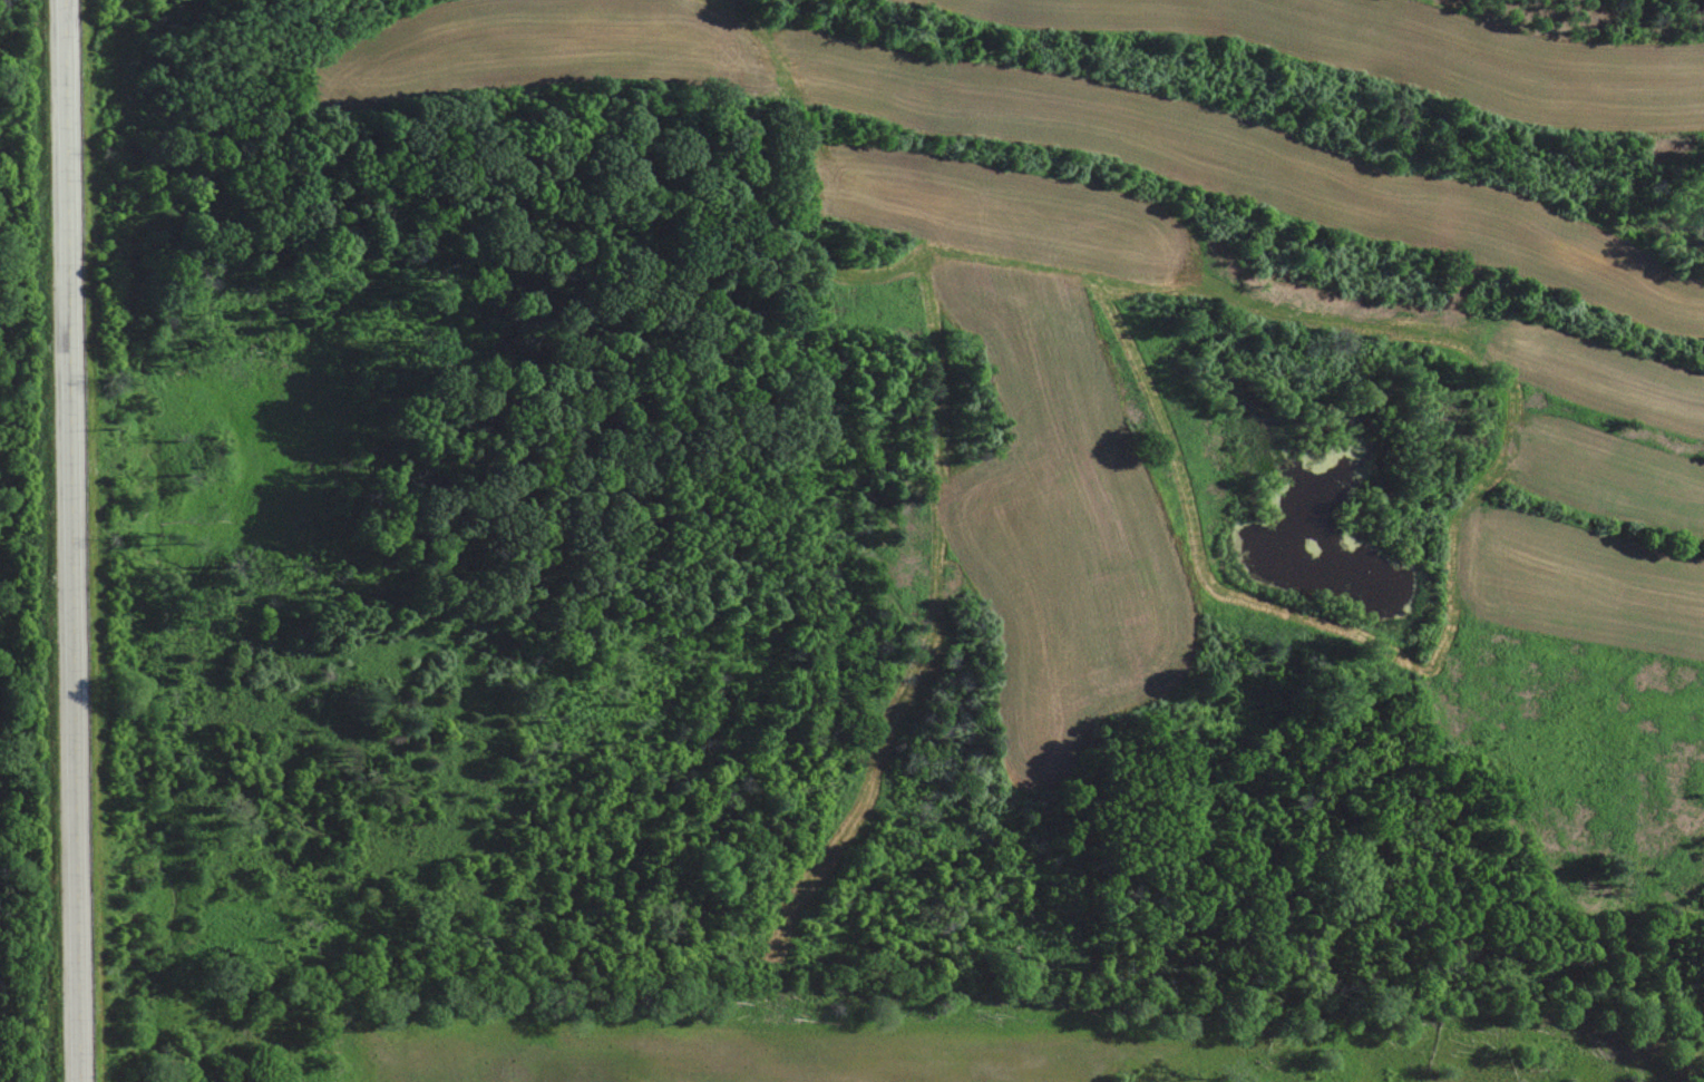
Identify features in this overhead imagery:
road: (74, 540)

